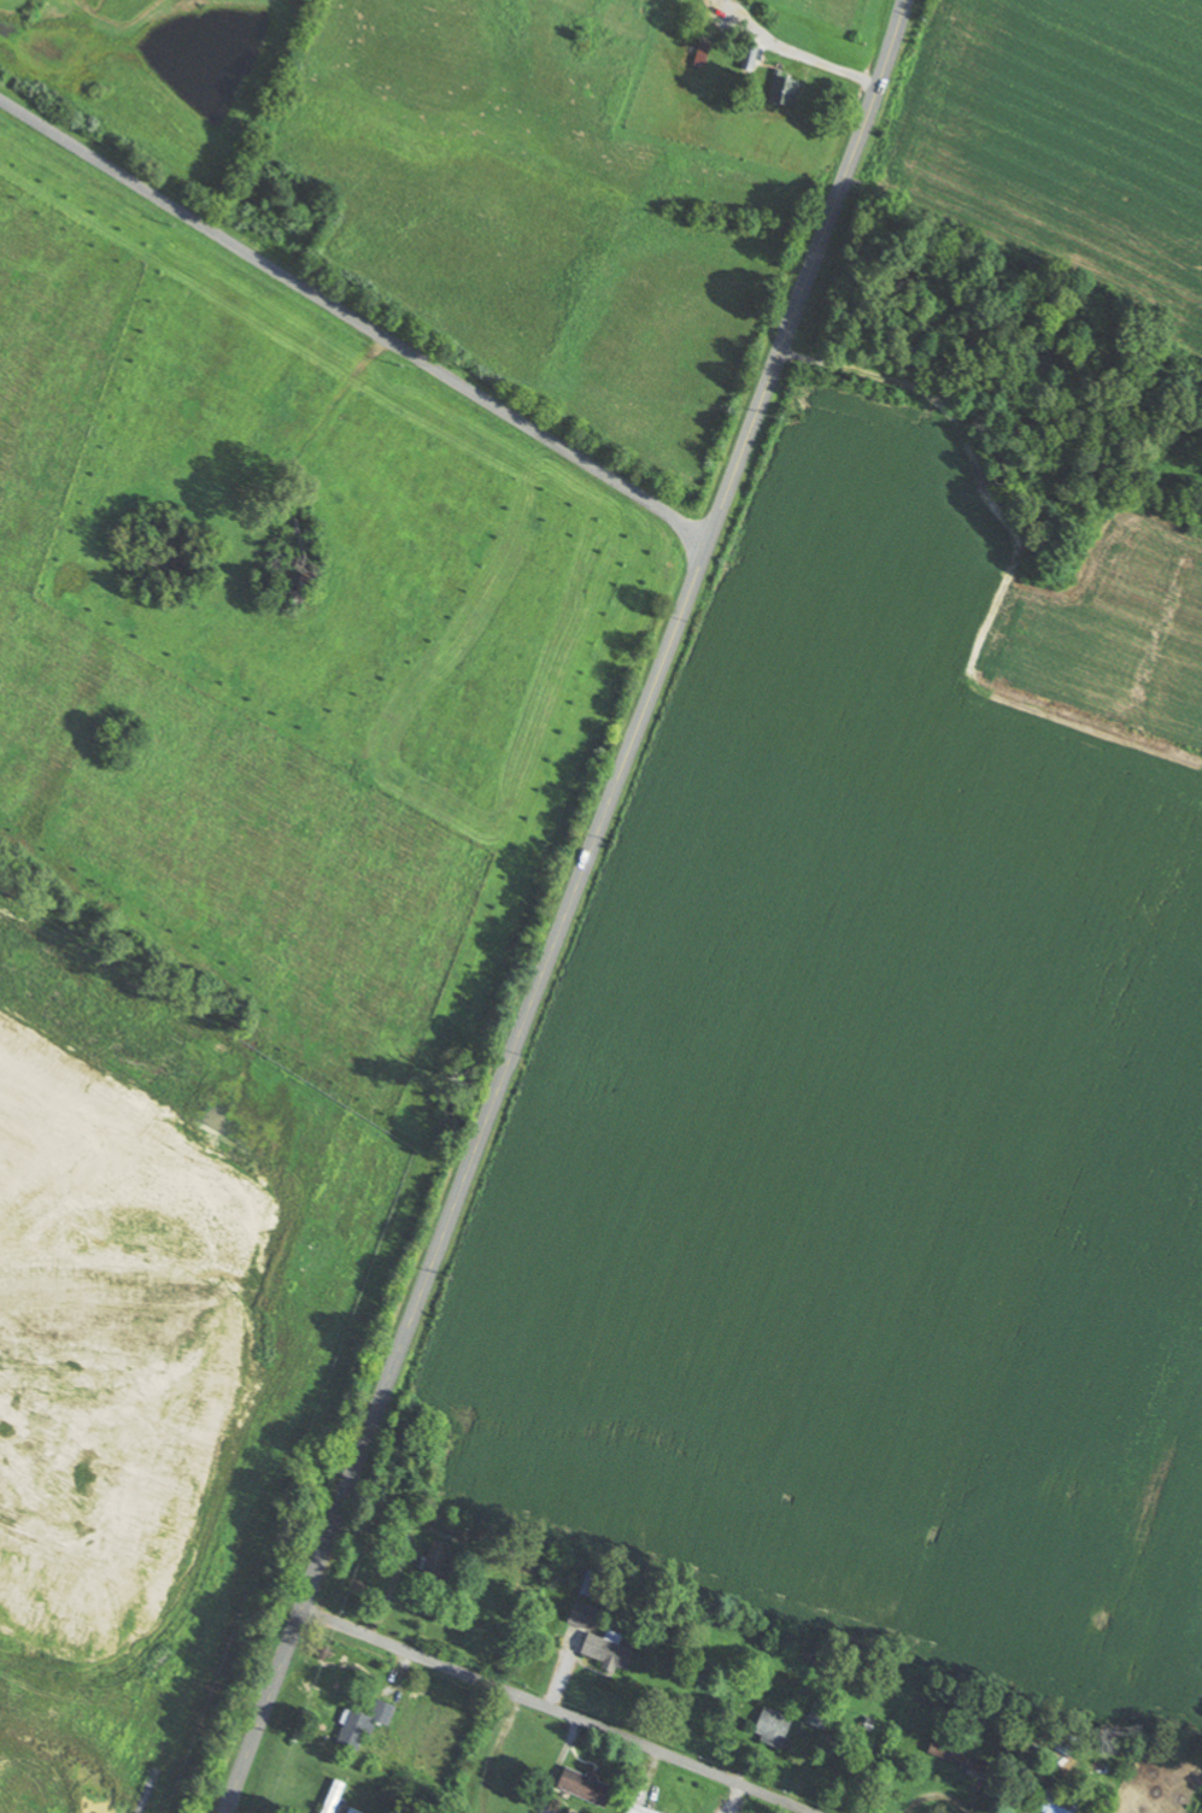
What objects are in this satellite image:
road: (354, 316)
road: (564, 906)
road: (561, 1708)
road: (436, 1737)

